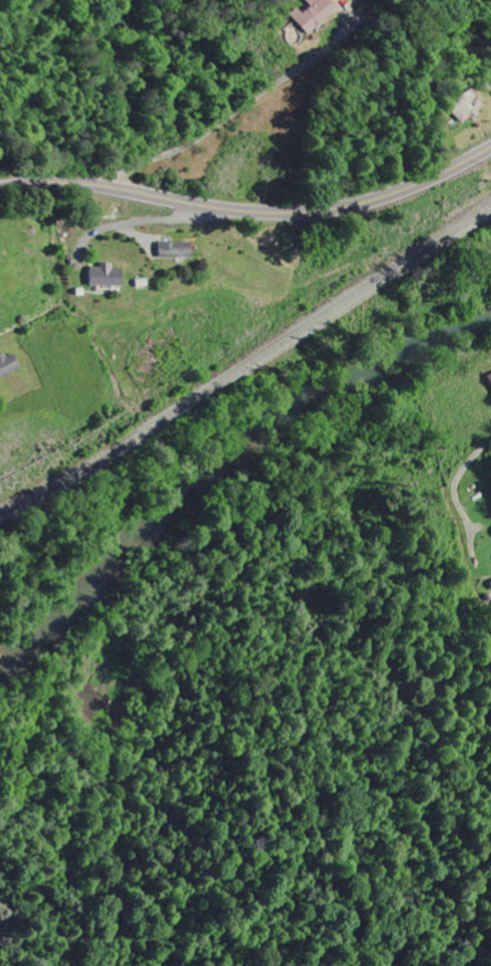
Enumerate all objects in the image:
building: (312, 14)
building: (464, 106)
road: (250, 212)
building: (172, 250)
building: (105, 276)
building: (8, 364)
railway: (247, 365)
building: (489, 379)
road: (456, 480)
building: (490, 582)

